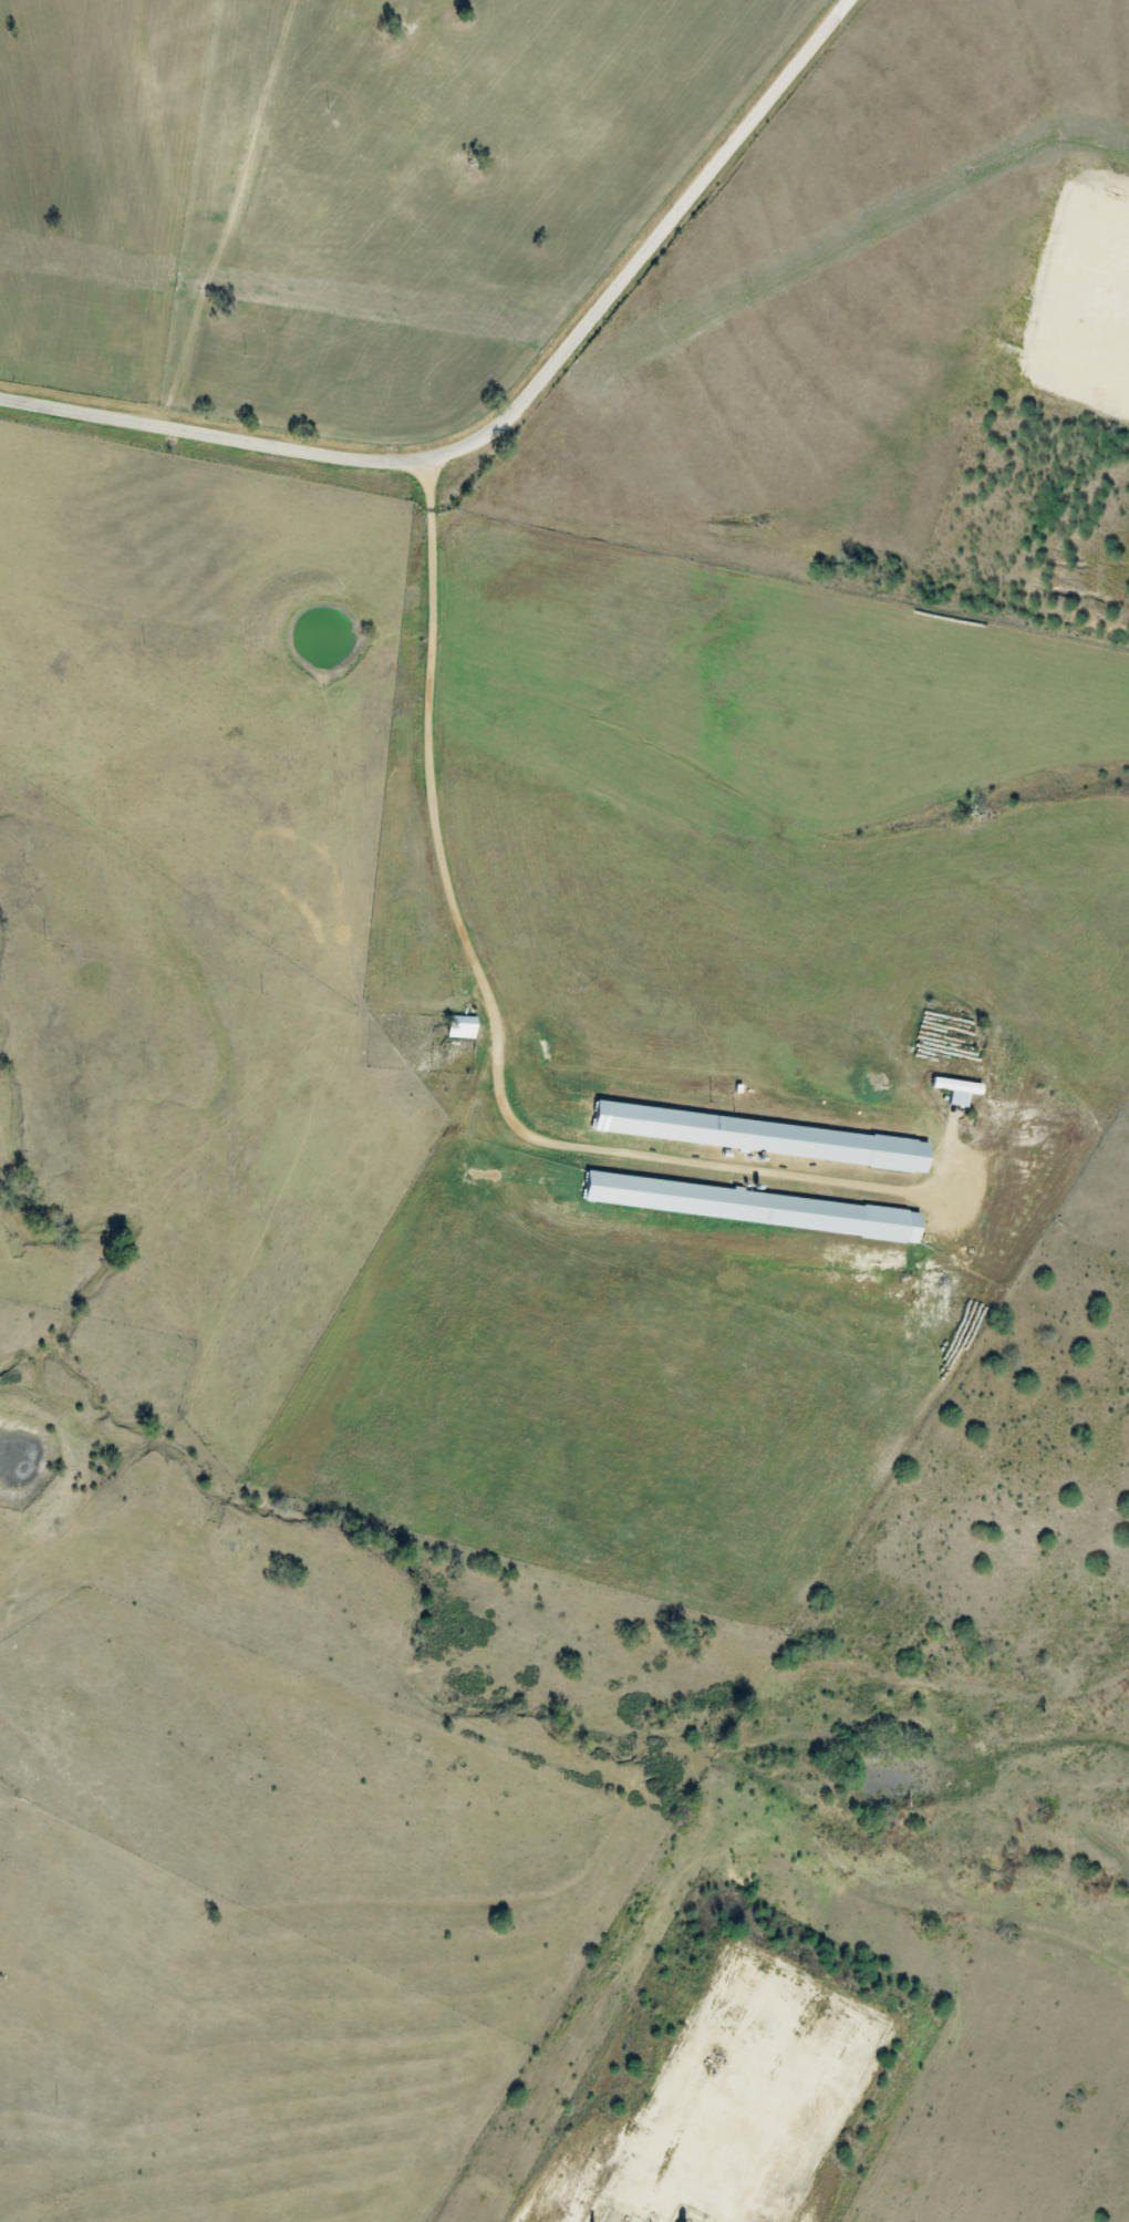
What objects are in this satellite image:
road: (514, 409)
building: (457, 1026)
building: (953, 1089)
building: (753, 1136)
building: (744, 1207)

